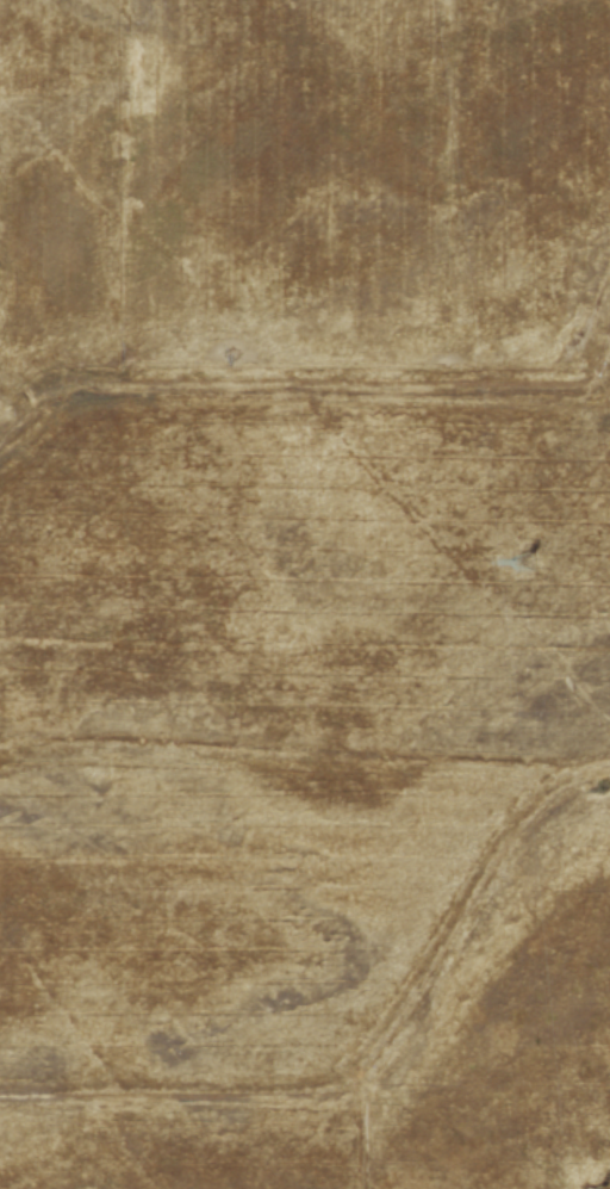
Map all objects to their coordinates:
power tower: (527, 559)

